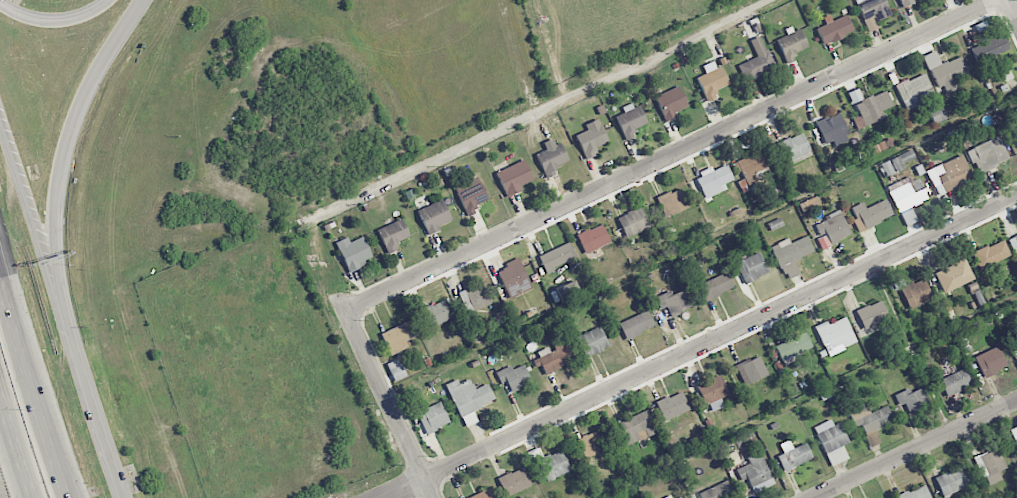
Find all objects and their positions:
building: (905, 2)
road: (1013, 7)
building: (872, 12)
road: (57, 22)
building: (834, 28)
building: (791, 43)
building: (989, 48)
building: (757, 60)
building: (946, 72)
building: (712, 80)
building: (913, 90)
building: (854, 95)
building: (670, 102)
building: (871, 109)
building: (936, 114)
road: (74, 120)
building: (630, 120)
road: (510, 124)
building: (833, 130)
building: (1015, 132)
building: (591, 138)
building: (881, 145)
building: (794, 149)
building: (987, 154)
road: (672, 155)
building: (907, 156)
building: (551, 159)
building: (891, 165)
building: (753, 167)
building: (949, 174)
building: (514, 177)
building: (712, 180)
road: (23, 191)
building: (470, 194)
building: (907, 197)
building: (672, 202)
building: (809, 203)
building: (872, 212)
building: (434, 215)
building: (633, 222)
building: (775, 223)
building: (831, 230)
building: (392, 235)
building: (593, 238)
building: (1014, 244)
building: (353, 252)
building: (991, 253)
building: (791, 254)
building: (556, 256)
building: (751, 267)
building: (954, 275)
building: (513, 278)
building: (715, 286)
building: (567, 291)
building: (914, 292)
building: (979, 297)
building: (473, 298)
building: (673, 301)
building: (434, 314)
building: (872, 314)
building: (635, 324)
building: (835, 335)
building: (399, 336)
building: (592, 341)
building: (1016, 342)
building: (793, 346)
road: (702, 347)
building: (553, 356)
building: (990, 361)
building: (1016, 361)
building: (396, 369)
building: (751, 370)
building: (513, 376)
road: (85, 378)
building: (957, 381)
road: (36, 388)
building: (713, 392)
road: (385, 395)
building: (468, 399)
building: (912, 399)
building: (671, 406)
building: (433, 417)
building: (870, 420)
building: (635, 427)
building: (1014, 434)
building: (832, 441)
building: (592, 443)
road: (13, 447)
road: (916, 449)
building: (793, 455)
building: (553, 465)
building: (990, 466)
building: (755, 473)
building: (514, 481)
building: (951, 481)
building: (718, 491)
building: (915, 493)
building: (482, 494)
building: (668, 496)
building: (682, 497)

